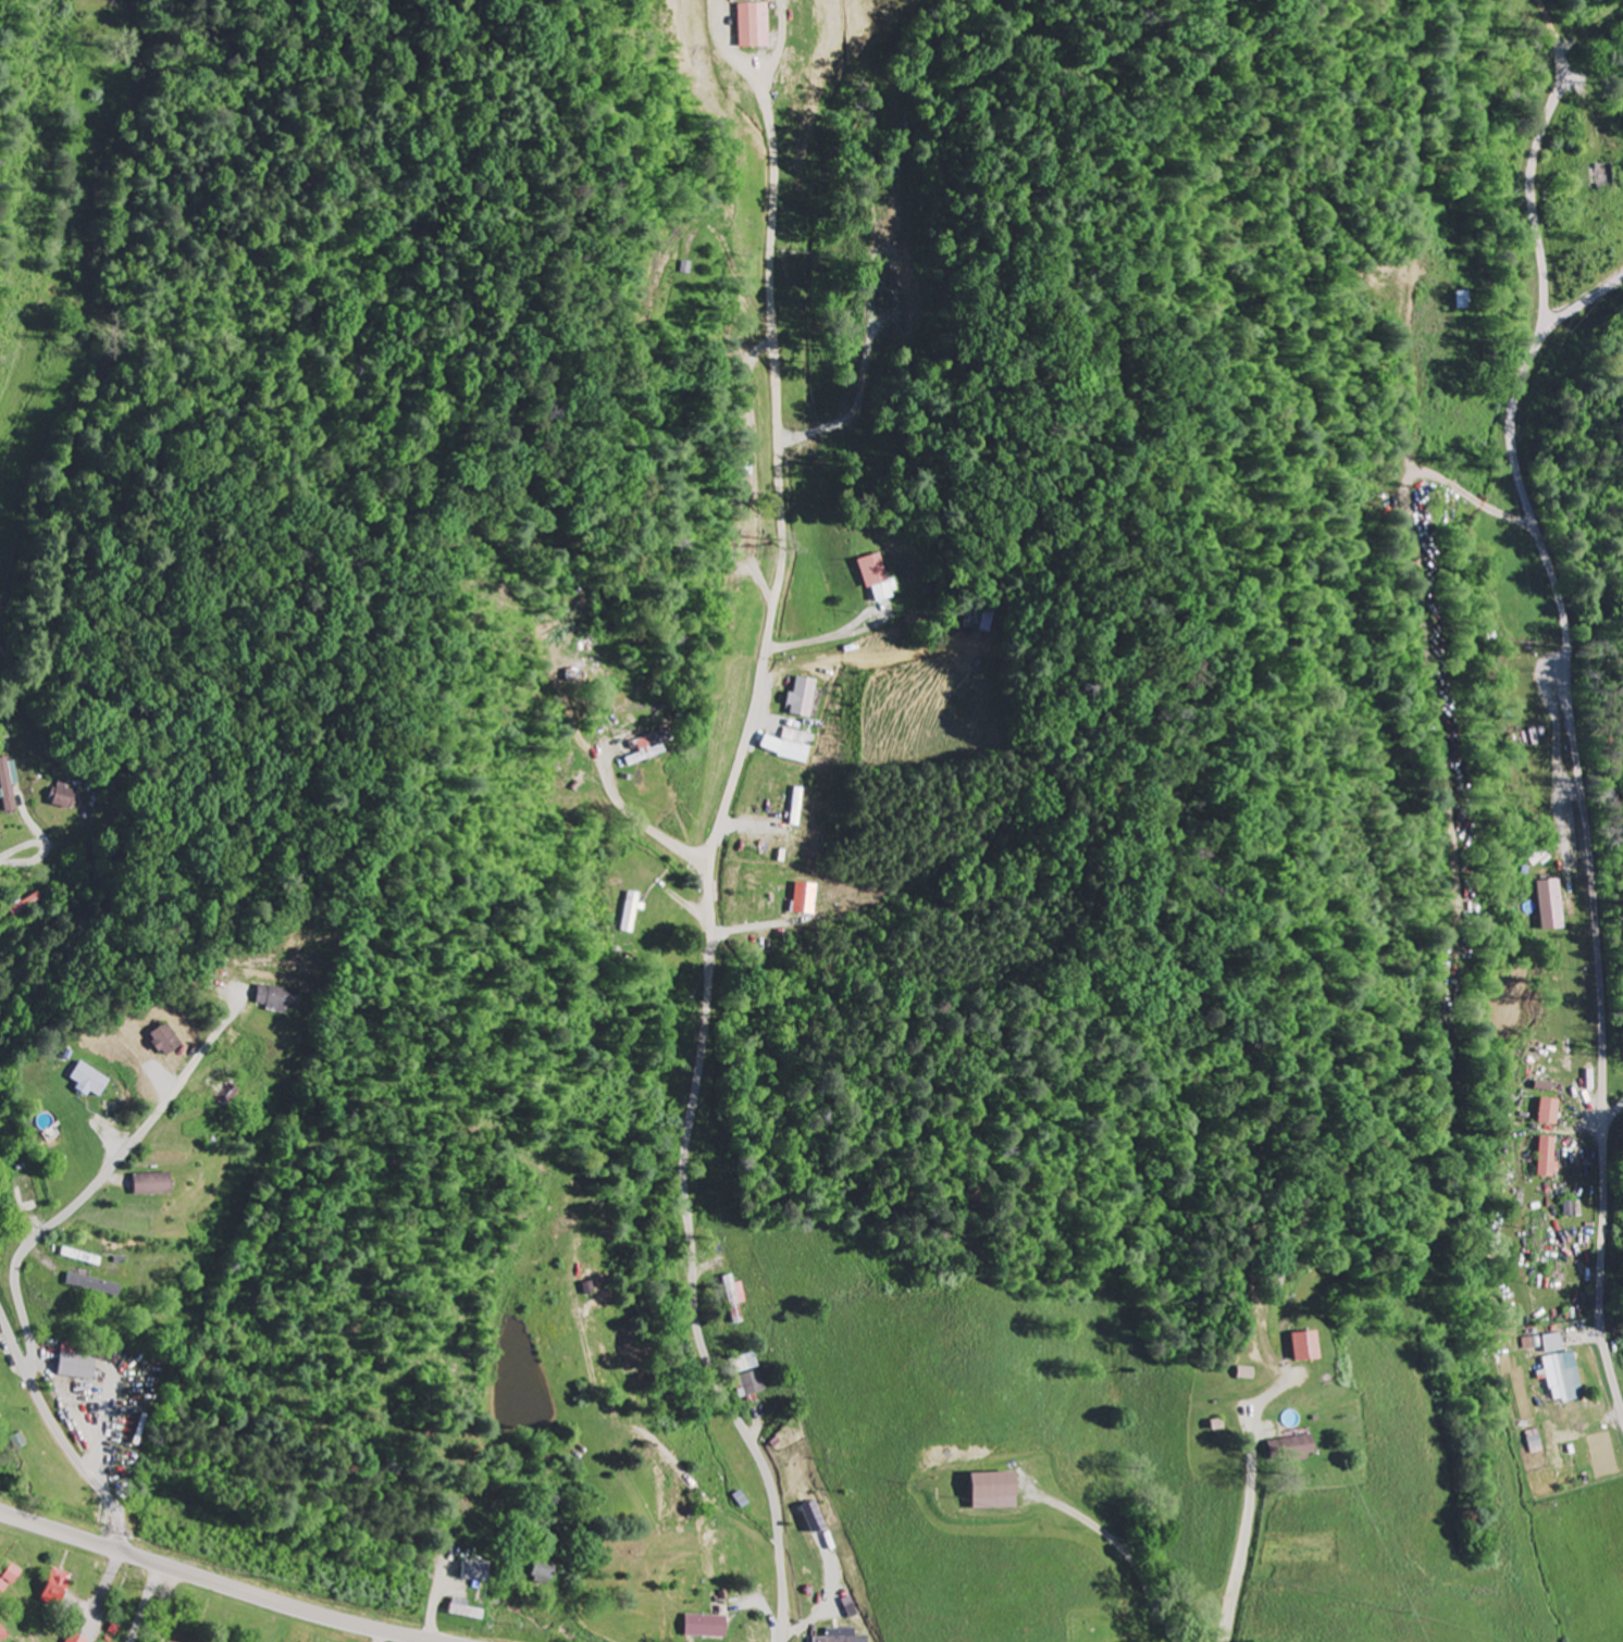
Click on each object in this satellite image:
building: (758, 26)
road: (116, 301)
building: (879, 580)
building: (980, 622)
building: (806, 699)
road: (1573, 739)
building: (793, 746)
building: (647, 752)
building: (9, 786)
building: (67, 798)
road: (711, 866)
building: (807, 900)
building: (1552, 906)
building: (275, 998)
building: (166, 1041)
building: (92, 1081)
building: (1552, 1111)
building: (1549, 1157)
building: (156, 1184)
building: (96, 1285)
building: (739, 1299)
building: (1534, 1343)
building: (1556, 1343)
building: (1310, 1346)
building: (79, 1364)
building: (746, 1364)
building: (1249, 1373)
building: (1565, 1380)
building: (753, 1384)
road: (60, 1435)
building: (1538, 1442)
building: (1296, 1450)
building: (999, 1491)
road: (1247, 1508)
building: (817, 1518)
building: (481, 1571)
building: (547, 1572)
building: (12, 1580)
road: (220, 1583)
building: (61, 1589)
building: (710, 1627)
building: (844, 1637)
building: (80, 1638)

